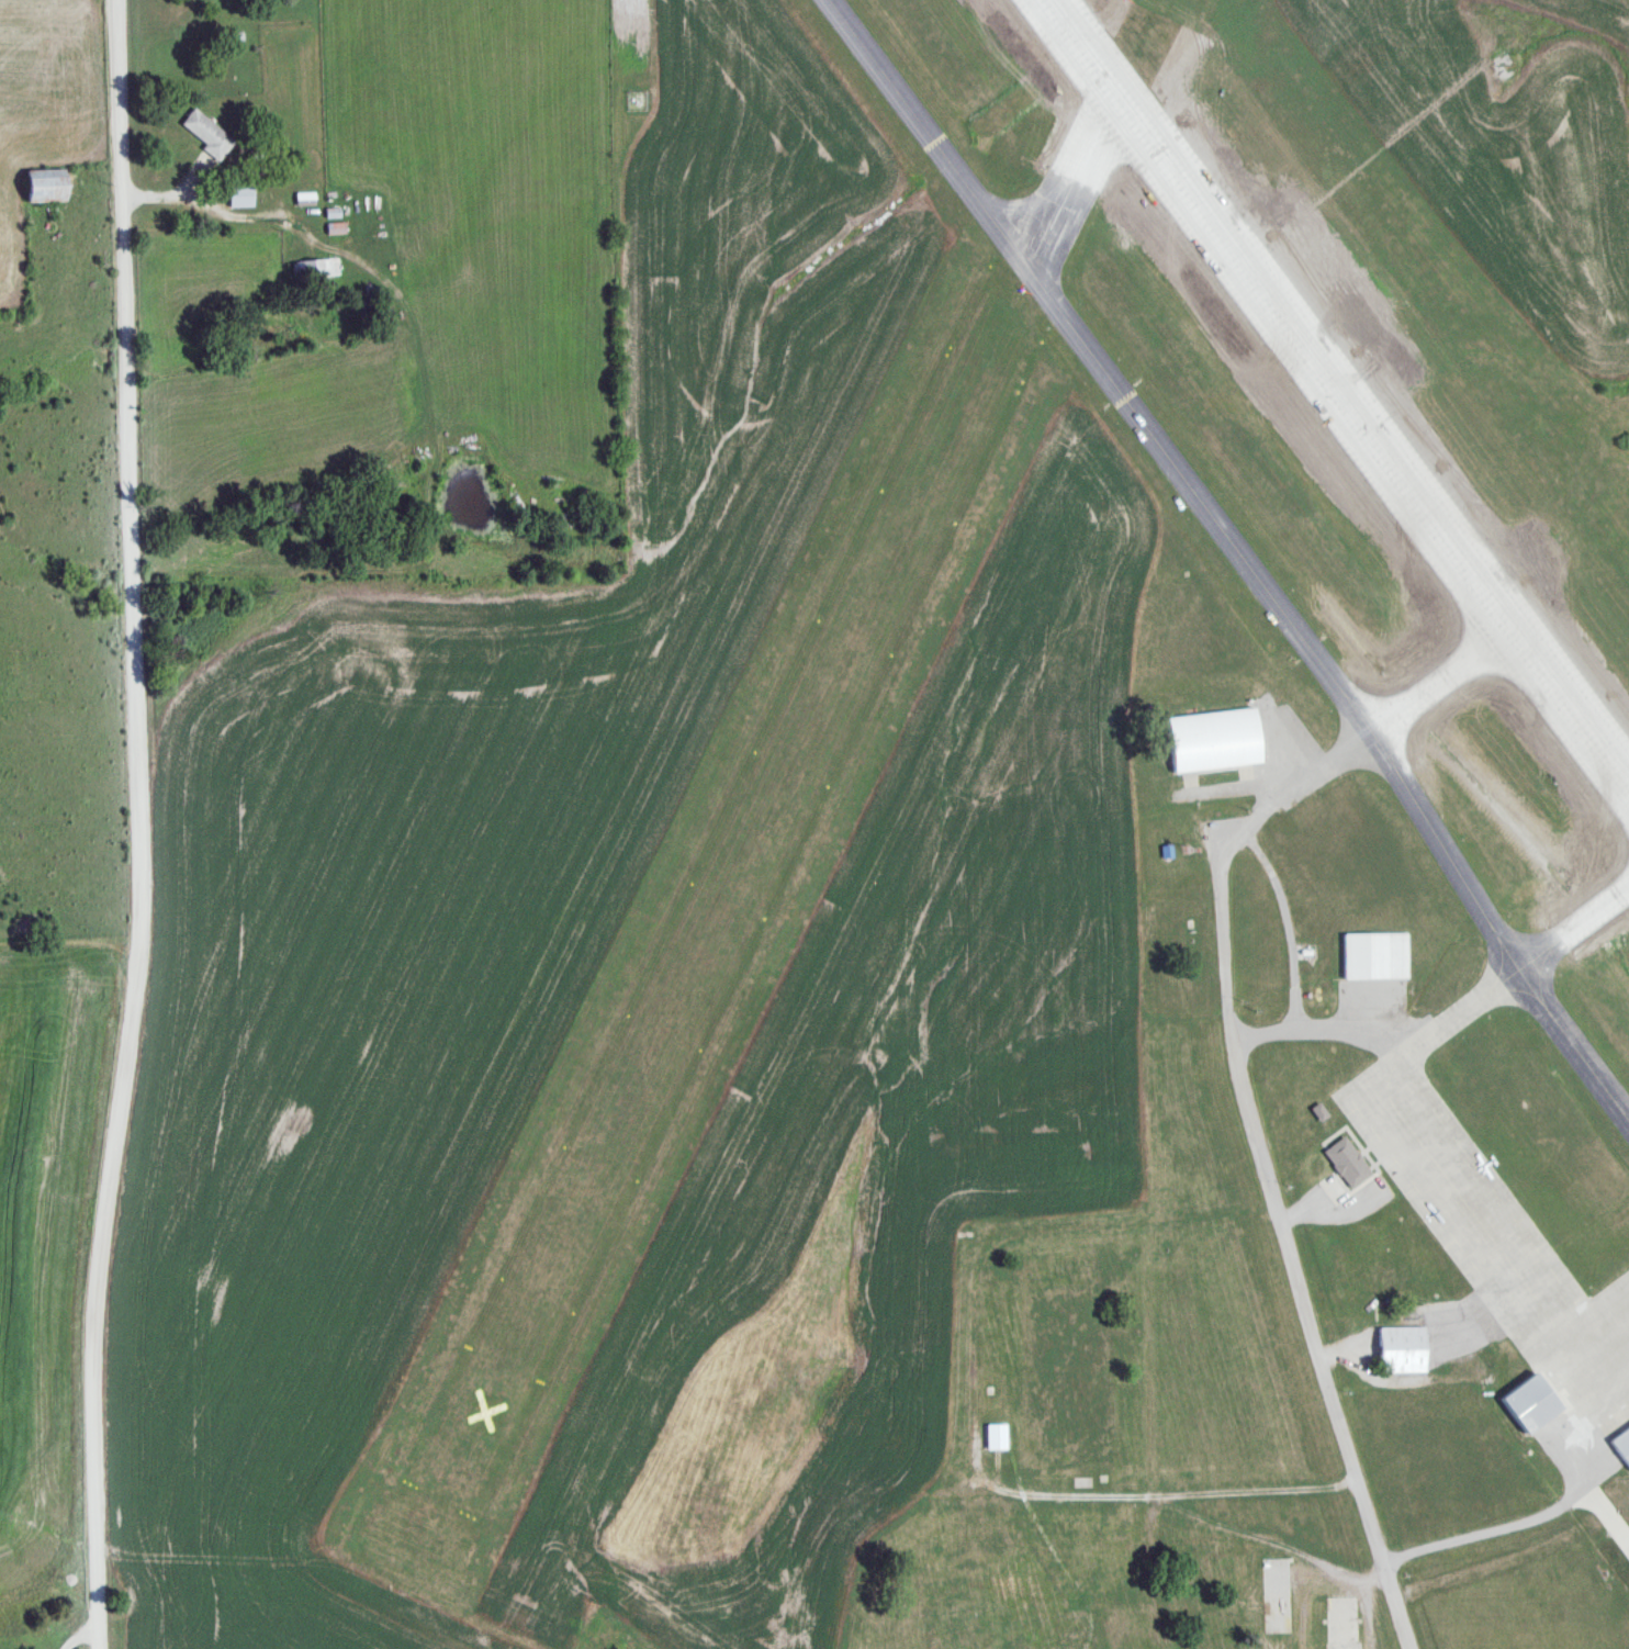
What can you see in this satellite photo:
building: (203, 132)
building: (38, 184)
building: (236, 194)
building: (314, 267)
airport runway: (1337, 392)
airport taxiway: (1238, 550)
airport taxiway: (1425, 700)
building: (1212, 743)
airport runway: (785, 783)
airport apron: (1325, 806)
road: (138, 824)
road: (1292, 924)
road: (1434, 936)
airport: (1091, 952)
airport taxiway: (1550, 953)
building: (1377, 958)
road: (1297, 1028)
building: (1353, 1158)
road: (1334, 1214)
road: (1285, 1222)
airport apron: (1487, 1241)
building: (1403, 1350)
road: (1347, 1356)
building: (1529, 1404)
road: (973, 1432)
building: (995, 1436)
building: (1620, 1447)
road: (1262, 1494)
road: (1482, 1537)

